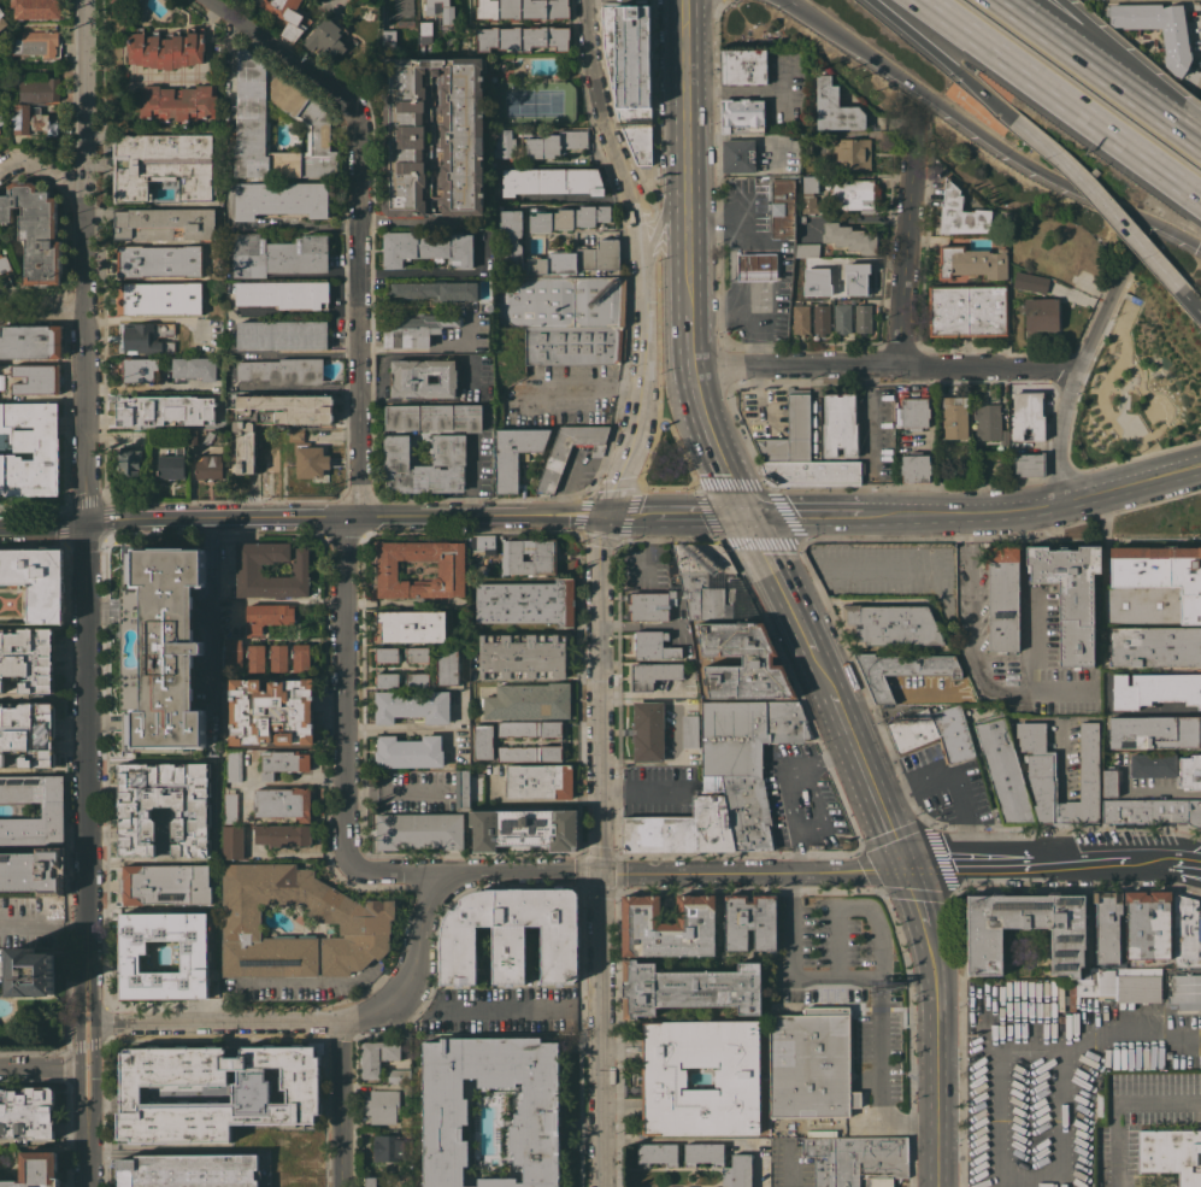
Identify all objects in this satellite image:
road: (791, 4)
building: (36, 8)
building: (522, 8)
building: (440, 11)
building: (287, 16)
building: (1, 19)
building: (423, 31)
building: (325, 36)
building: (520, 37)
building: (1174, 40)
building: (388, 41)
building: (36, 43)
building: (166, 48)
road: (207, 57)
road: (940, 59)
road: (1121, 59)
road: (1089, 64)
building: (744, 66)
building: (630, 72)
building: (40, 89)
road: (732, 90)
road: (1061, 100)
building: (178, 102)
park: (532, 102)
road: (684, 105)
building: (834, 107)
building: (743, 114)
building: (311, 116)
building: (1, 121)
building: (28, 123)
building: (431, 136)
road: (1189, 136)
road: (990, 142)
building: (554, 143)
building: (502, 147)
building: (852, 153)
building: (737, 155)
building: (163, 165)
road: (43, 168)
building: (551, 181)
building: (810, 195)
building: (854, 195)
building: (281, 199)
road: (1097, 199)
road: (666, 204)
building: (781, 204)
road: (732, 208)
road: (706, 210)
building: (960, 213)
building: (567, 218)
building: (801, 219)
road: (395, 222)
building: (164, 223)
road: (741, 223)
building: (1043, 223)
building: (35, 230)
road: (909, 236)
building: (849, 237)
traffic signals: (1196, 245)
road: (752, 246)
building: (426, 247)
building: (806, 249)
building: (552, 253)
building: (278, 254)
road: (641, 255)
building: (1061, 258)
building: (159, 260)
road: (83, 262)
road: (688, 262)
building: (755, 262)
building: (971, 262)
building: (4, 264)
building: (807, 265)
road: (430, 271)
road: (734, 277)
building: (843, 278)
building: (814, 281)
building: (1030, 282)
building: (435, 289)
building: (284, 294)
building: (158, 298)
building: (561, 301)
road: (1188, 301)
road: (47, 305)
road: (65, 307)
road: (749, 307)
building: (967, 310)
road: (707, 311)
road: (293, 312)
building: (1038, 316)
building: (800, 318)
building: (820, 318)
building: (842, 318)
building: (863, 318)
road: (756, 324)
building: (417, 329)
building: (282, 335)
building: (148, 337)
road: (689, 339)
building: (30, 341)
building: (573, 343)
road: (420, 348)
road: (758, 352)
road: (1079, 362)
road: (883, 364)
building: (5, 366)
building: (194, 368)
building: (139, 369)
building: (282, 370)
building: (422, 378)
building: (35, 380)
road: (101, 388)
road: (357, 398)
building: (163, 410)
building: (914, 413)
building: (1028, 415)
building: (953, 416)
building: (432, 417)
building: (273, 419)
building: (989, 422)
building: (840, 425)
building: (790, 433)
building: (295, 434)
building: (194, 436)
building: (207, 436)
road: (711, 441)
building: (30, 449)
building: (569, 451)
building: (513, 456)
building: (523, 457)
building: (310, 459)
building: (129, 464)
building: (210, 464)
building: (1030, 464)
building: (424, 465)
building: (171, 466)
building: (914, 468)
building: (811, 474)
road: (471, 476)
road: (1035, 507)
road: (806, 513)
road: (345, 515)
traffic signals: (605, 515)
road: (629, 515)
road: (700, 515)
traffic signals: (747, 515)
traffic signals: (87, 523)
road: (43, 527)
road: (1105, 527)
road: (1001, 536)
road: (1118, 539)
building: (481, 545)
building: (543, 558)
building: (248, 569)
building: (451, 569)
building: (36, 581)
building: (708, 581)
road: (781, 582)
building: (1153, 586)
building: (1002, 597)
building: (1070, 597)
building: (526, 601)
building: (648, 605)
road: (211, 611)
building: (267, 616)
building: (411, 625)
building: (890, 625)
building: (654, 645)
building: (1155, 646)
building: (160, 647)
building: (688, 652)
building: (231, 653)
building: (387, 654)
building: (417, 654)
building: (522, 656)
road: (972, 656)
building: (255, 657)
building: (277, 657)
building: (27, 658)
building: (301, 658)
building: (756, 659)
building: (447, 666)
road: (823, 671)
building: (901, 671)
building: (652, 675)
building: (387, 680)
building: (417, 680)
building: (1154, 689)
building: (528, 701)
building: (412, 705)
building: (271, 711)
building: (529, 729)
building: (689, 730)
building: (647, 731)
building: (932, 731)
building: (1155, 731)
building: (28, 733)
building: (483, 741)
road: (87, 744)
building: (408, 752)
building: (529, 753)
building: (10, 758)
building: (747, 759)
road: (1065, 760)
building: (282, 763)
building: (234, 764)
building: (1153, 765)
building: (1041, 769)
building: (1003, 771)
building: (1190, 771)
parking lot: (929, 772)
building: (538, 781)
road: (869, 781)
road: (782, 783)
building: (1109, 783)
road: (952, 785)
road: (642, 786)
building: (476, 788)
parking lot: (949, 788)
road: (391, 789)
building: (461, 789)
road: (1168, 789)
building: (283, 803)
building: (230, 804)
road: (819, 807)
building: (52, 809)
parking lot: (814, 809)
building: (131, 810)
building: (1143, 811)
building: (1194, 812)
road: (1064, 815)
building: (682, 828)
building: (524, 829)
building: (419, 830)
building: (282, 834)
parking lot: (1123, 839)
building: (232, 842)
road: (1064, 846)
road: (599, 850)
road: (1105, 860)
road: (1184, 862)
road: (1012, 868)
building: (33, 870)
traffic signals: (906, 870)
road: (943, 870)
road: (671, 872)
traffic signals: (599, 874)
road: (394, 876)
building: (164, 883)
road: (917, 898)
building: (351, 921)
road: (42, 922)
building: (749, 922)
building: (1147, 924)
building: (669, 927)
building: (1105, 927)
building: (1187, 932)
building: (511, 935)
building: (1068, 935)
building: (193, 958)
building: (31, 972)
road: (320, 977)
road: (876, 980)
building: (1096, 982)
building: (688, 988)
building: (1137, 988)
road: (76, 991)
road: (94, 991)
building: (1185, 991)
road: (482, 1009)
road: (86, 1019)
road: (312, 1019)
road: (972, 1027)
road: (1128, 1034)
road: (93, 1042)
road: (77, 1044)
road: (94, 1044)
road: (86, 1045)
road: (1028, 1045)
road: (77, 1046)
building: (376, 1056)
road: (940, 1057)
building: (811, 1063)
road: (37, 1068)
road: (84, 1068)
building: (398, 1076)
building: (664, 1077)
road: (879, 1081)
road: (77, 1091)
road: (93, 1091)
building: (637, 1091)
building: (249, 1093)
road: (1115, 1100)
road: (345, 1103)
building: (384, 1107)
building: (28, 1112)
building: (490, 1112)
road: (1059, 1113)
road: (997, 1144)
building: (294, 1145)
building: (389, 1145)
road: (84, 1150)
building: (657, 1153)
building: (702, 1153)
building: (1171, 1153)
building: (858, 1160)
building: (36, 1170)
building: (189, 1170)
building: (737, 1170)
road: (789, 1179)
building: (369, 1181)
building: (298, 1183)

